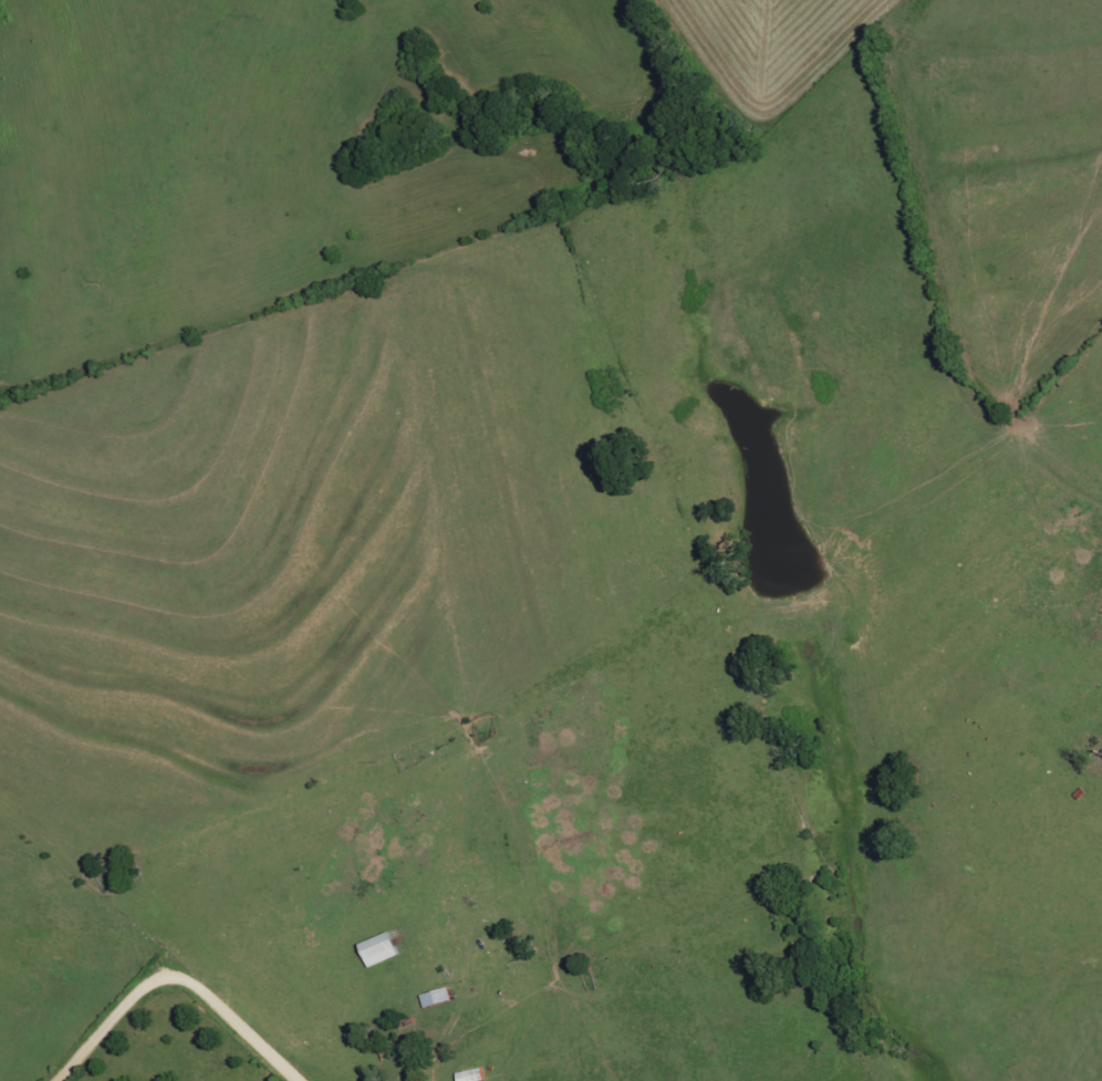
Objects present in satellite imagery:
building: (380, 948)
road: (177, 975)
building: (437, 997)

